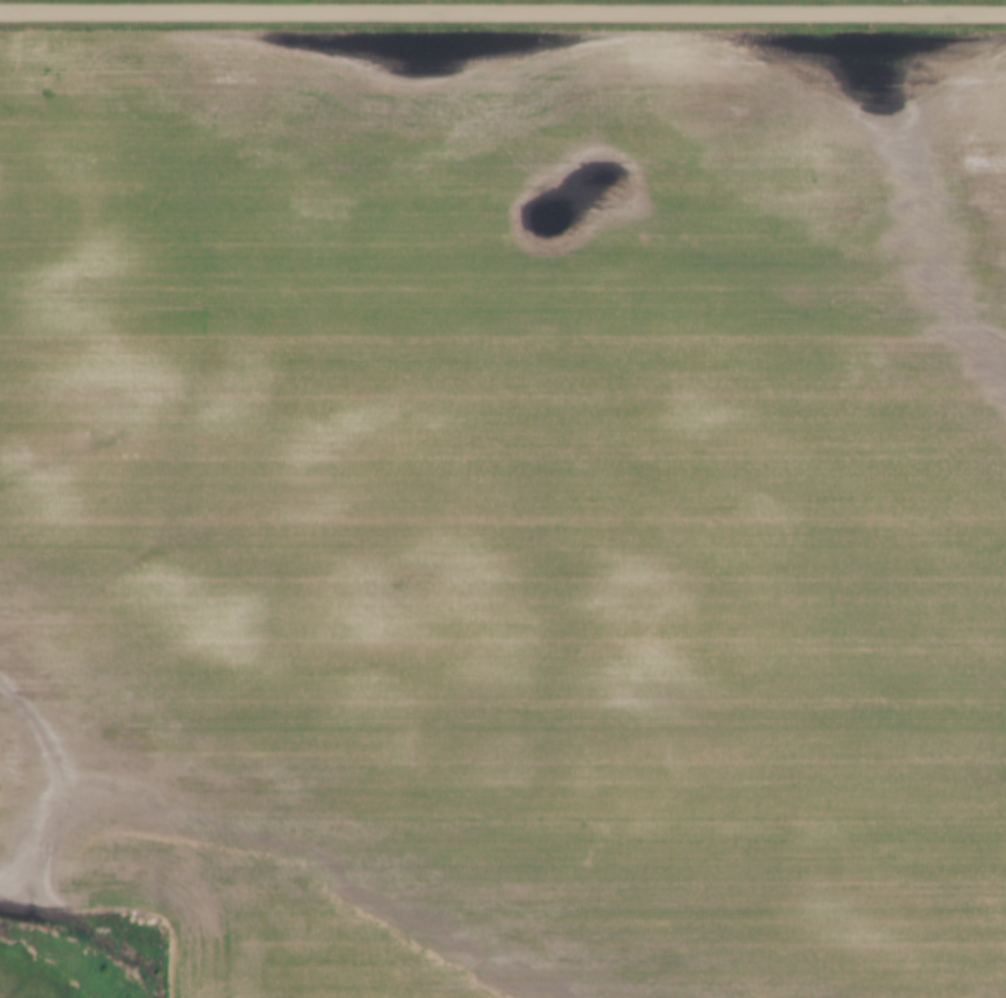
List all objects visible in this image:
road: (503, 12)

